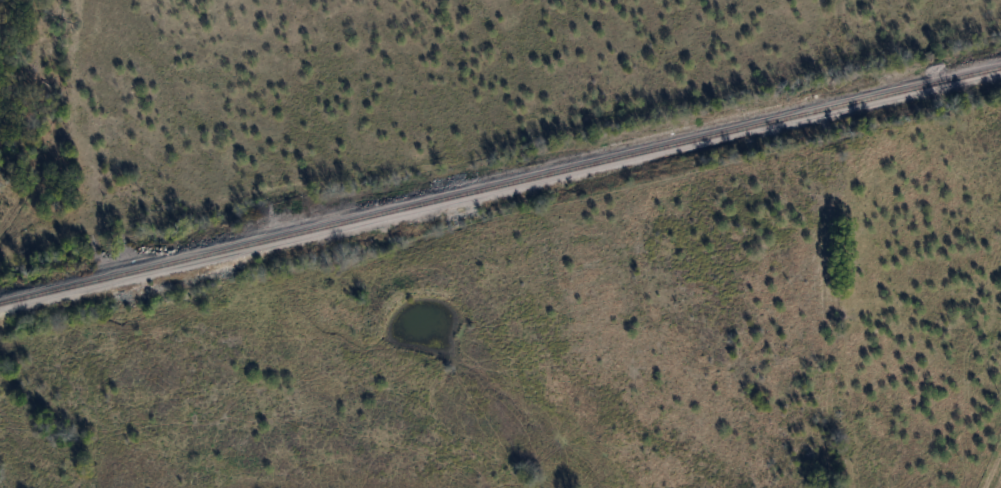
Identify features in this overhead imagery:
railway: (500, 186)

